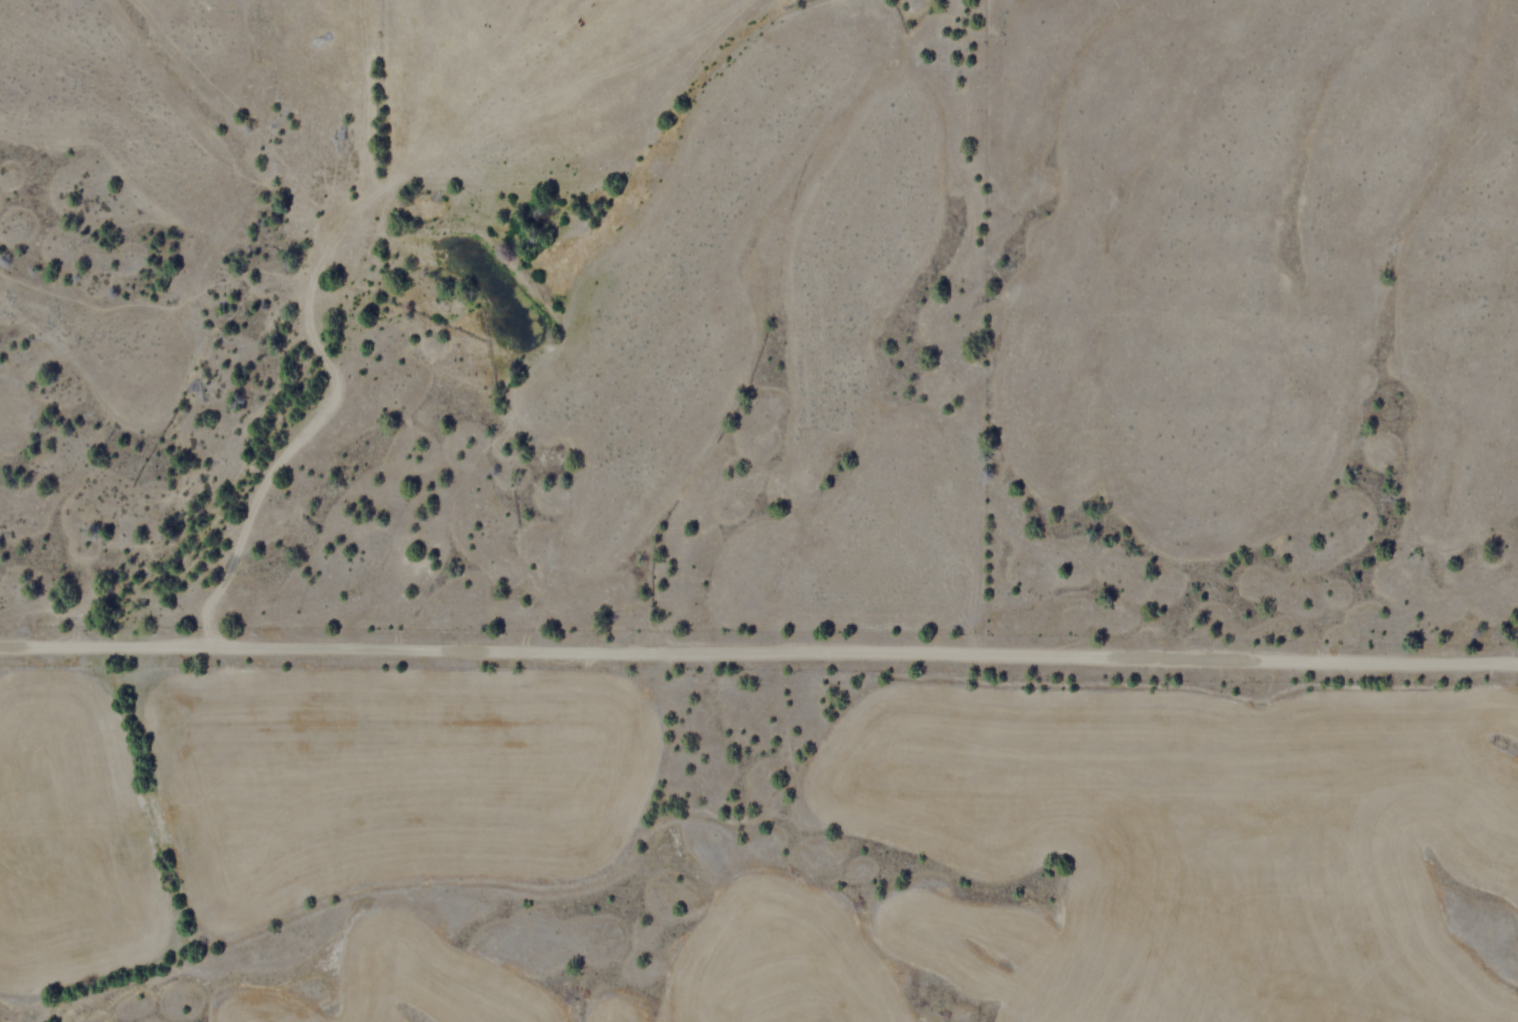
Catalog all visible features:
road: (759, 648)

